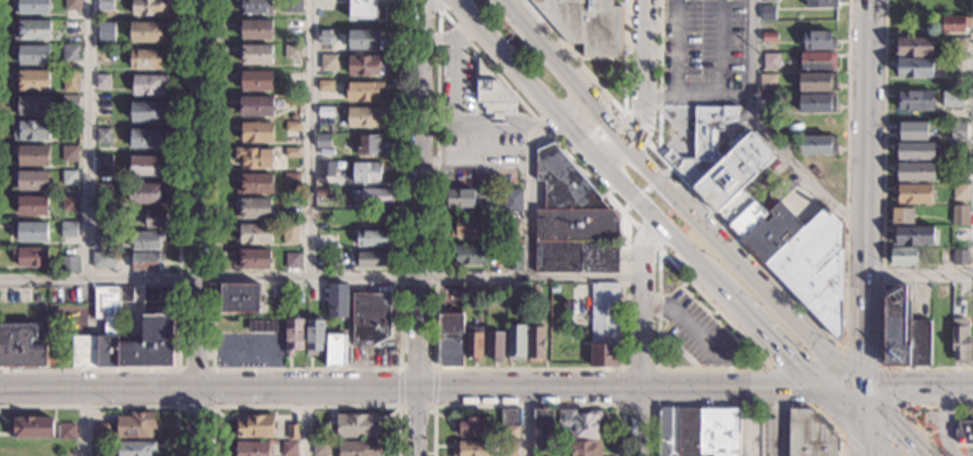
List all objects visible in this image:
building: (770, 0)
road: (436, 3)
road: (439, 3)
building: (822, 4)
building: (72, 5)
building: (104, 5)
building: (256, 6)
building: (293, 6)
building: (32, 7)
building: (150, 7)
building: (363, 9)
building: (767, 12)
road: (447, 16)
road: (698, 23)
building: (587, 24)
building: (954, 24)
building: (292, 27)
building: (71, 28)
building: (31, 30)
building: (106, 30)
building: (255, 30)
building: (147, 32)
building: (684, 33)
building: (769, 36)
building: (325, 37)
building: (365, 40)
building: (819, 40)
parking lot: (706, 45)
building: (956, 45)
building: (913, 47)
building: (70, 52)
building: (293, 52)
road: (698, 53)
building: (33, 55)
building: (255, 55)
road: (625, 56)
road: (506, 57)
road: (575, 57)
road: (600, 57)
building: (147, 58)
building: (771, 61)
building: (818, 61)
building: (329, 63)
building: (366, 65)
building: (913, 69)
road: (562, 72)
road: (643, 75)
road: (659, 77)
building: (32, 80)
road: (475, 80)
building: (71, 81)
building: (768, 81)
building: (102, 82)
building: (257, 82)
building: (818, 82)
building: (149, 85)
building: (325, 86)
building: (364, 91)
building: (493, 92)
road: (697, 96)
building: (951, 99)
building: (914, 100)
building: (767, 103)
building: (70, 104)
road: (570, 104)
building: (818, 104)
building: (32, 105)
building: (256, 107)
road: (847, 109)
road: (864, 110)
building: (326, 111)
road: (453, 111)
building: (147, 112)
road: (496, 116)
building: (498, 116)
building: (364, 117)
road: (566, 124)
building: (818, 124)
building: (292, 126)
building: (70, 128)
road: (636, 129)
building: (31, 130)
building: (958, 130)
building: (908, 131)
building: (256, 132)
road: (764, 134)
building: (103, 136)
road: (86, 138)
building: (148, 138)
road: (308, 138)
building: (322, 141)
building: (370, 145)
building: (818, 145)
road: (600, 147)
building: (915, 151)
building: (292, 152)
building: (70, 154)
building: (32, 156)
building: (255, 157)
building: (724, 163)
building: (104, 164)
building: (146, 165)
building: (821, 168)
building: (326, 169)
road: (666, 171)
building: (367, 173)
building: (915, 173)
building: (69, 178)
road: (656, 179)
building: (291, 180)
road: (617, 180)
building: (32, 181)
building: (254, 184)
road: (530, 189)
road: (646, 189)
building: (102, 191)
building: (960, 192)
building: (145, 193)
building: (324, 193)
road: (416, 194)
building: (913, 194)
road: (199, 195)
building: (377, 197)
road: (636, 197)
building: (462, 199)
building: (512, 201)
building: (70, 204)
building: (31, 206)
building: (291, 206)
road: (626, 207)
building: (252, 210)
building: (465, 215)
building: (960, 215)
building: (903, 216)
building: (379, 217)
building: (106, 218)
building: (748, 218)
building: (157, 219)
building: (573, 221)
building: (511, 227)
building: (469, 228)
building: (69, 229)
road: (882, 229)
building: (773, 231)
building: (31, 232)
building: (254, 233)
building: (290, 234)
building: (101, 236)
road: (647, 237)
building: (913, 237)
building: (372, 239)
building: (146, 240)
building: (470, 255)
building: (904, 256)
building: (30, 257)
building: (515, 258)
building: (960, 258)
building: (253, 259)
building: (103, 260)
building: (376, 260)
road: (692, 260)
building: (147, 261)
building: (292, 261)
building: (68, 264)
building: (816, 266)
road: (741, 268)
road: (178, 272)
road: (919, 275)
road: (321, 277)
building: (534, 291)
road: (788, 292)
building: (470, 294)
building: (15, 295)
building: (159, 295)
building: (493, 297)
building: (240, 298)
building: (337, 300)
road: (863, 304)
road: (642, 305)
road: (709, 313)
building: (370, 318)
road: (686, 322)
building: (604, 325)
building: (159, 326)
building: (262, 327)
road: (658, 329)
road: (738, 331)
building: (904, 331)
building: (293, 336)
building: (315, 337)
building: (450, 340)
building: (960, 340)
road: (771, 341)
building: (516, 343)
building: (474, 344)
building: (495, 345)
building: (536, 345)
building: (23, 346)
road: (678, 349)
building: (336, 350)
road: (846, 350)
building: (753, 352)
traffic signals: (862, 353)
traffic signals: (787, 357)
road: (177, 368)
road: (306, 368)
road: (417, 369)
road: (559, 369)
road: (400, 387)
road: (433, 387)
road: (917, 387)
road: (527, 388)
road: (729, 388)
road: (830, 388)
road: (851, 388)
traffic signals: (896, 388)
road: (306, 389)
traffic signals: (787, 389)
road: (98, 390)
road: (861, 397)
road: (656, 403)
road: (740, 404)
road: (113, 406)
road: (306, 406)
road: (416, 406)
road: (527, 406)
road: (904, 406)
road: (840, 409)
road: (959, 414)
building: (510, 417)
road: (862, 418)
road: (895, 420)
building: (913, 420)
road: (639, 421)
road: (302, 422)
road: (414, 422)
road: (525, 422)
road: (777, 422)
road: (88, 423)
road: (197, 423)
road: (946, 423)
building: (581, 424)
building: (136, 425)
building: (351, 426)
traffic signals: (900, 426)
building: (256, 427)
building: (470, 427)
building: (31, 428)
building: (67, 432)
building: (101, 432)
building: (292, 432)
building: (698, 432)
building: (963, 432)
building: (543, 433)
building: (510, 434)
building: (810, 435)
road: (876, 442)
road: (862, 443)
road: (854, 444)
building: (508, 447)
building: (136, 448)
building: (358, 448)
building: (472, 448)
building: (586, 448)
building: (98, 449)
building: (252, 449)
building: (289, 449)
building: (322, 449)

